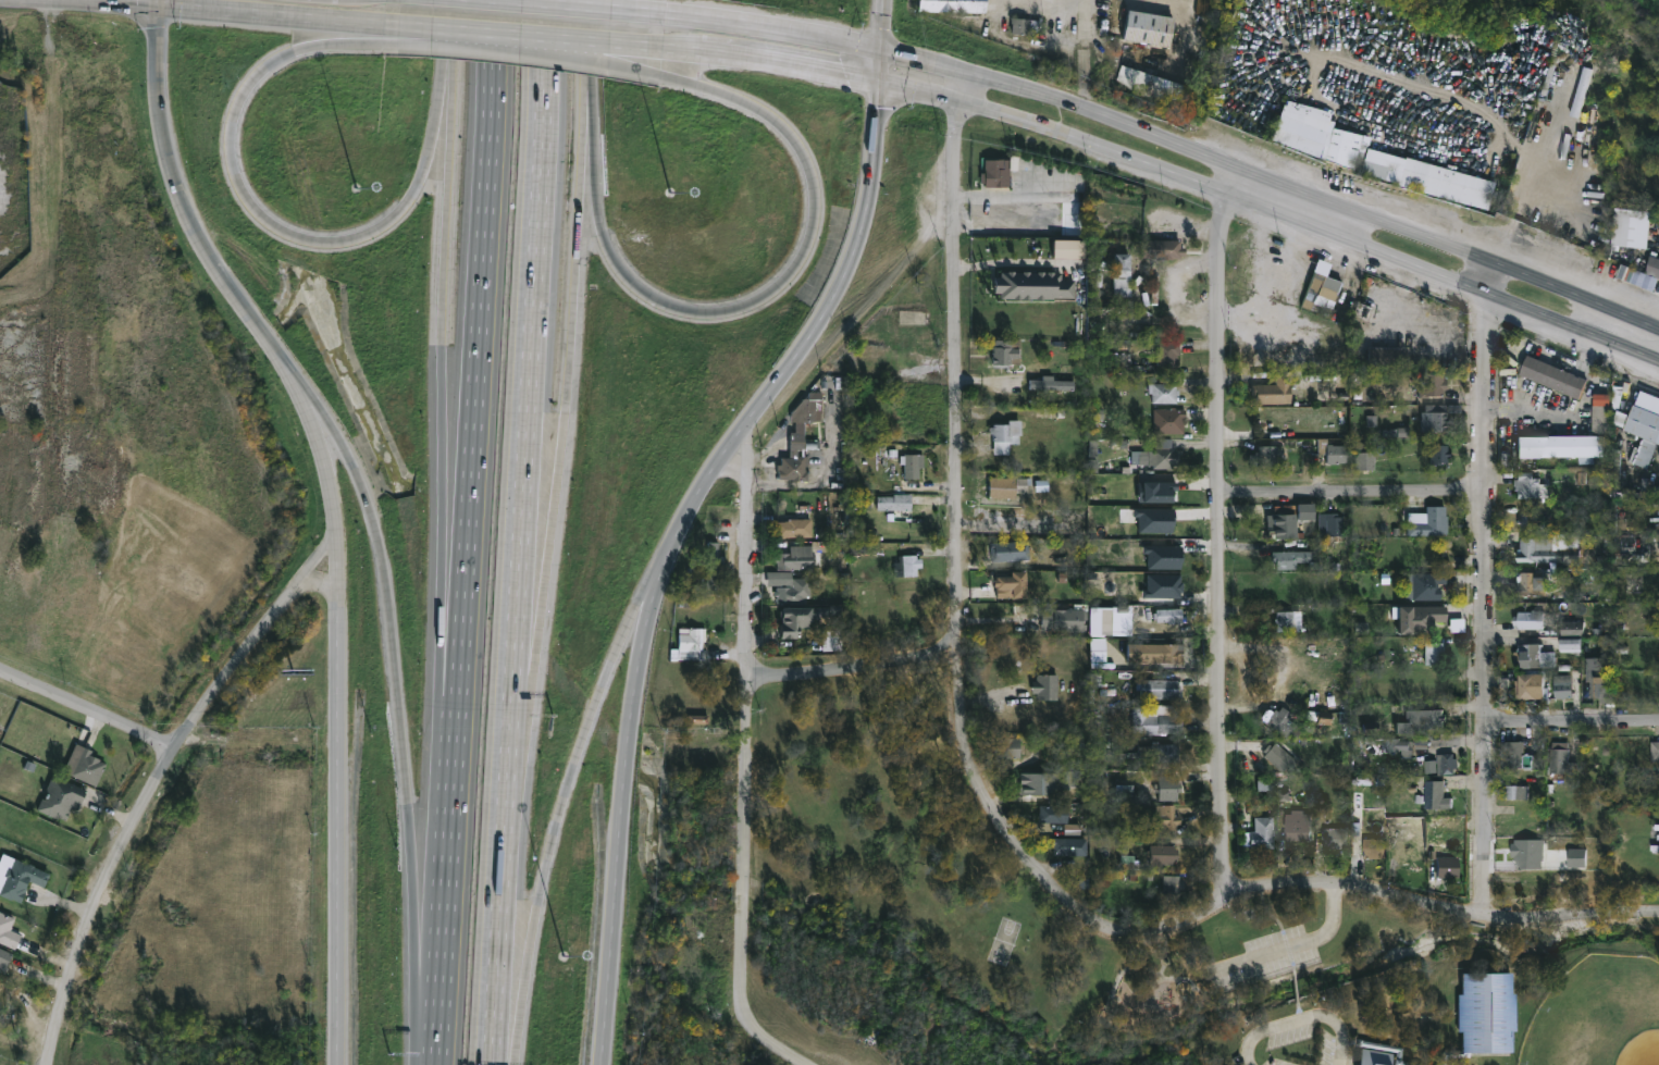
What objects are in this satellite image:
road: (79, 3)
road: (159, 3)
road: (589, 4)
building: (956, 5)
traffic signals: (159, 7)
road: (457, 11)
road: (278, 13)
road: (883, 26)
road: (766, 27)
building: (1143, 27)
road: (507, 33)
road: (350, 35)
road: (594, 46)
road: (659, 47)
traffic signals: (882, 52)
road: (449, 54)
road: (456, 55)
road: (659, 64)
road: (791, 64)
road: (881, 66)
traffic signals: (881, 82)
road: (1464, 102)
road: (587, 125)
road: (594, 125)
building: (1378, 161)
building: (998, 173)
road: (1273, 182)
road: (1014, 195)
road: (1553, 197)
road: (1273, 210)
road: (956, 220)
building: (1619, 227)
road: (294, 234)
road: (1651, 236)
road: (1503, 239)
building: (1159, 249)
building: (1249, 264)
building: (1651, 267)
building: (1122, 277)
building: (1033, 285)
road: (1185, 287)
road: (769, 292)
building: (1318, 293)
road: (244, 302)
road: (1218, 329)
road: (533, 336)
road: (444, 342)
road: (481, 345)
building: (1010, 351)
building: (1164, 352)
building: (1379, 356)
building: (1117, 361)
road: (570, 368)
road: (1490, 373)
building: (1552, 376)
building: (1429, 384)
building: (1052, 385)
building: (1270, 391)
building: (1162, 393)
building: (1432, 418)
building: (1166, 420)
road: (331, 428)
building: (1644, 430)
building: (1007, 435)
building: (803, 438)
building: (1568, 441)
building: (1321, 448)
building: (1155, 455)
building: (1266, 455)
building: (1438, 456)
building: (1363, 459)
building: (915, 465)
road: (827, 476)
building: (1008, 485)
building: (1528, 486)
road: (1358, 493)
building: (896, 501)
road: (956, 501)
building: (1284, 519)
building: (1530, 519)
building: (1429, 522)
building: (1329, 523)
building: (797, 528)
road: (669, 547)
road: (322, 549)
building: (1015, 550)
road: (746, 553)
building: (1543, 553)
building: (797, 558)
building: (1291, 558)
building: (911, 565)
building: (716, 567)
road: (323, 580)
building: (1161, 582)
building: (1014, 583)
building: (1525, 583)
building: (1423, 585)
building: (791, 595)
building: (1167, 617)
building: (1067, 618)
building: (1415, 619)
building: (804, 620)
building: (1528, 620)
building: (1287, 621)
road: (531, 627)
building: (1582, 635)
road: (629, 640)
road: (453, 643)
building: (692, 643)
building: (1569, 646)
building: (1166, 654)
building: (1432, 654)
building: (1525, 657)
road: (235, 666)
road: (395, 667)
road: (856, 670)
building: (1598, 679)
building: (1049, 684)
building: (1532, 685)
road: (1227, 686)
building: (1561, 688)
building: (1159, 689)
road: (1486, 701)
road: (85, 710)
building: (1153, 720)
building: (1278, 721)
building: (1419, 722)
road: (1572, 727)
building: (1011, 746)
building: (1157, 753)
building: (1654, 753)
building: (1511, 754)
building: (1277, 756)
building: (1562, 760)
building: (87, 766)
building: (1446, 766)
building: (1030, 784)
building: (1165, 788)
building: (1514, 792)
building: (1433, 795)
building: (61, 796)
building: (1055, 813)
building: (1165, 817)
building: (1297, 827)
road: (348, 829)
building: (1258, 832)
road: (454, 834)
building: (1333, 838)
building: (1066, 844)
building: (1371, 847)
road: (549, 849)
building: (1162, 853)
building: (1409, 859)
road: (1035, 863)
building: (1444, 863)
road: (504, 869)
building: (20, 876)
road: (750, 881)
building: (1171, 884)
road: (1444, 902)
road: (99, 903)
park: (1055, 919)
road: (430, 929)
building: (9, 930)
road: (1300, 943)
building: (4, 958)
building: (1483, 1013)
road: (1301, 1019)
road: (442, 1021)
road: (513, 1043)
building: (1378, 1053)

